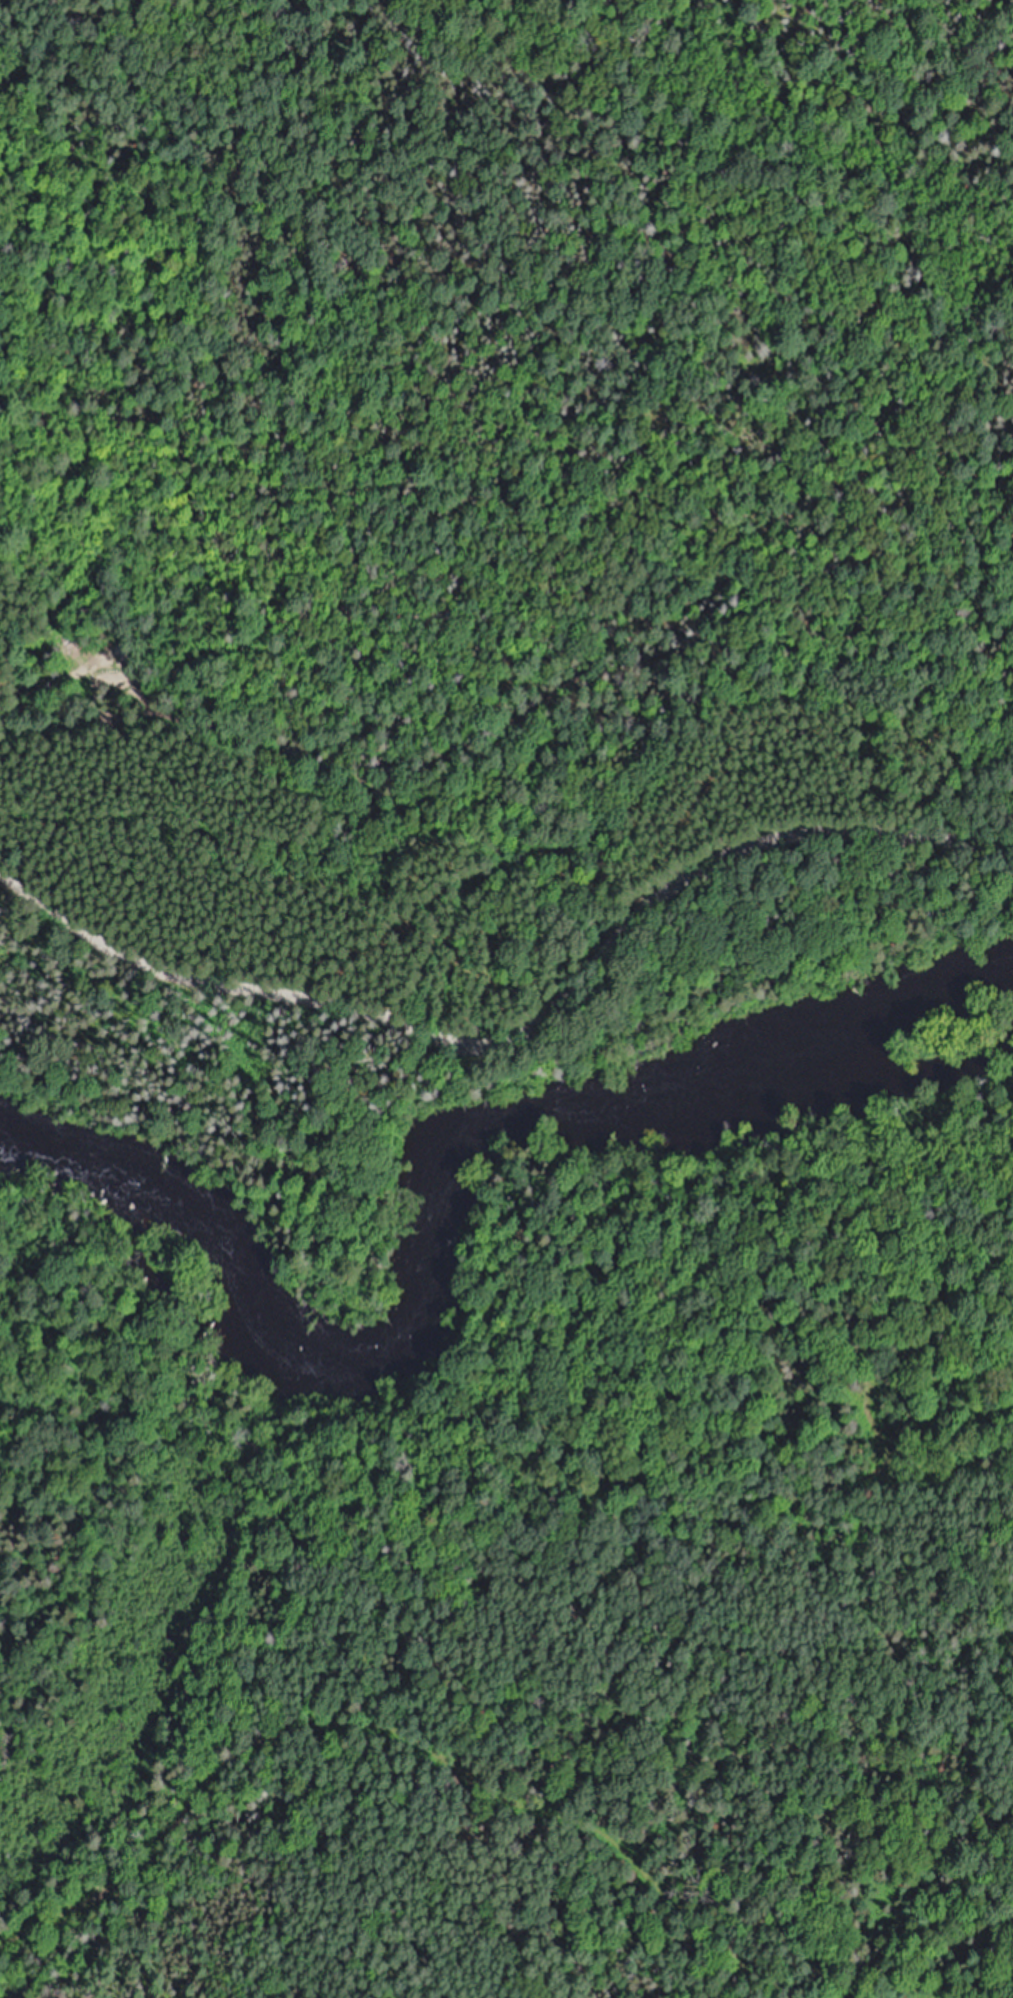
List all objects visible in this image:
park: (503, 467)
road: (518, 1021)
river: (441, 1213)
road: (770, 1987)

